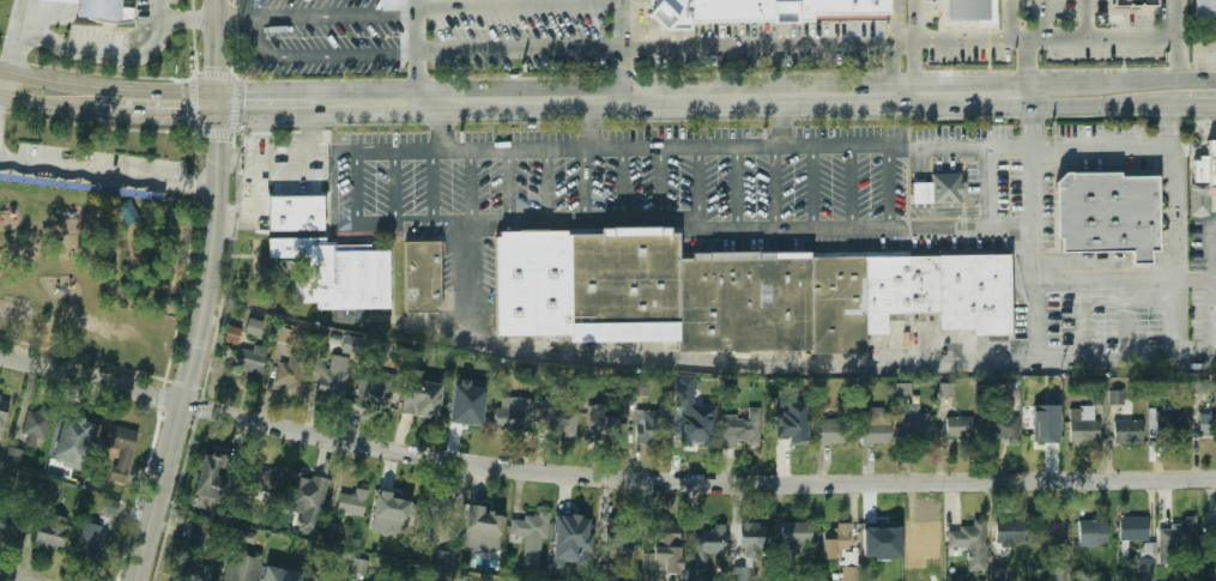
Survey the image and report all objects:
building: (59, 1)
building: (1133, 2)
road: (515, 7)
building: (1204, 8)
building: (748, 11)
building: (101, 12)
road: (319, 16)
building: (968, 16)
road: (229, 18)
road: (1085, 18)
road: (1040, 19)
road: (187, 20)
road: (891, 22)
road: (912, 22)
flagpole: (145, 29)
road: (20, 37)
road: (253, 37)
road: (1043, 38)
road: (1176, 38)
flagpole: (134, 41)
road: (766, 46)
road: (516, 49)
road: (619, 49)
road: (413, 52)
road: (333, 55)
road: (110, 56)
road: (912, 69)
road: (891, 71)
road: (2, 73)
road: (1161, 79)
road: (1088, 81)
road: (2, 85)
road: (98, 87)
road: (1047, 89)
road: (719, 98)
road: (206, 99)
road: (1047, 101)
road: (28, 102)
road: (382, 104)
road: (1175, 104)
road: (284, 105)
road: (1102, 105)
traffic signals: (219, 107)
road: (206, 111)
road: (123, 115)
road: (781, 121)
road: (589, 122)
road: (447, 125)
road: (1034, 132)
road: (308, 137)
road: (764, 145)
road: (260, 159)
building: (1205, 165)
road: (284, 170)
road: (108, 173)
road: (660, 183)
road: (700, 183)
road: (357, 184)
road: (587, 184)
road: (622, 184)
road: (990, 184)
road: (394, 186)
road: (434, 186)
road: (470, 186)
road: (509, 186)
road: (546, 186)
road: (851, 186)
road: (890, 186)
road: (813, 187)
building: (80, 188)
road: (739, 188)
road: (774, 188)
building: (944, 189)
building: (921, 194)
building: (1105, 212)
road: (236, 213)
building: (292, 213)
road: (528, 225)
road: (863, 229)
road: (1174, 230)
road: (1205, 246)
road: (1106, 256)
building: (1138, 256)
building: (337, 272)
building: (421, 277)
road: (1125, 280)
road: (1036, 291)
road: (207, 293)
building: (728, 293)
building: (253, 328)
building: (283, 333)
building: (230, 335)
building: (899, 335)
building: (351, 345)
building: (253, 361)
road: (786, 361)
building: (291, 373)
building: (332, 377)
building: (640, 386)
building: (1200, 386)
building: (902, 391)
building: (946, 391)
building: (375, 392)
building: (419, 394)
building: (1115, 395)
building: (467, 404)
building: (1, 412)
building: (514, 412)
building: (692, 412)
building: (559, 418)
building: (792, 423)
building: (1045, 423)
building: (599, 424)
building: (913, 424)
building: (1082, 424)
building: (1168, 424)
building: (1206, 424)
building: (646, 426)
building: (876, 426)
building: (957, 426)
building: (999, 426)
building: (34, 428)
building: (737, 428)
building: (830, 431)
building: (1126, 431)
building: (65, 440)
building: (119, 449)
building: (12, 456)
road: (601, 477)
building: (211, 480)
building: (266, 482)
building: (46, 494)
building: (308, 494)
building: (350, 502)
building: (391, 506)
building: (108, 507)
building: (484, 520)
building: (429, 523)
building: (8, 526)
building: (569, 528)
building: (1132, 528)
building: (331, 529)
building: (50, 531)
building: (1009, 532)
building: (1090, 532)
building: (1051, 533)
building: (193, 534)
building: (246, 535)
building: (966, 535)
building: (922, 537)
building: (752, 538)
building: (794, 538)
building: (879, 538)
building: (528, 539)
building: (1175, 540)
building: (89, 541)
building: (616, 541)
building: (836, 541)
building: (665, 544)
building: (706, 551)
building: (1147, 557)
building: (444, 558)
building: (849, 558)
building: (359, 565)
building: (240, 567)
building: (190, 571)
building: (649, 574)
building: (744, 574)
building: (849, 574)
building: (998, 574)
building: (1209, 574)
road: (14, 576)
building: (1058, 576)
building: (279, 577)
building: (362, 580)
building: (393, 580)

